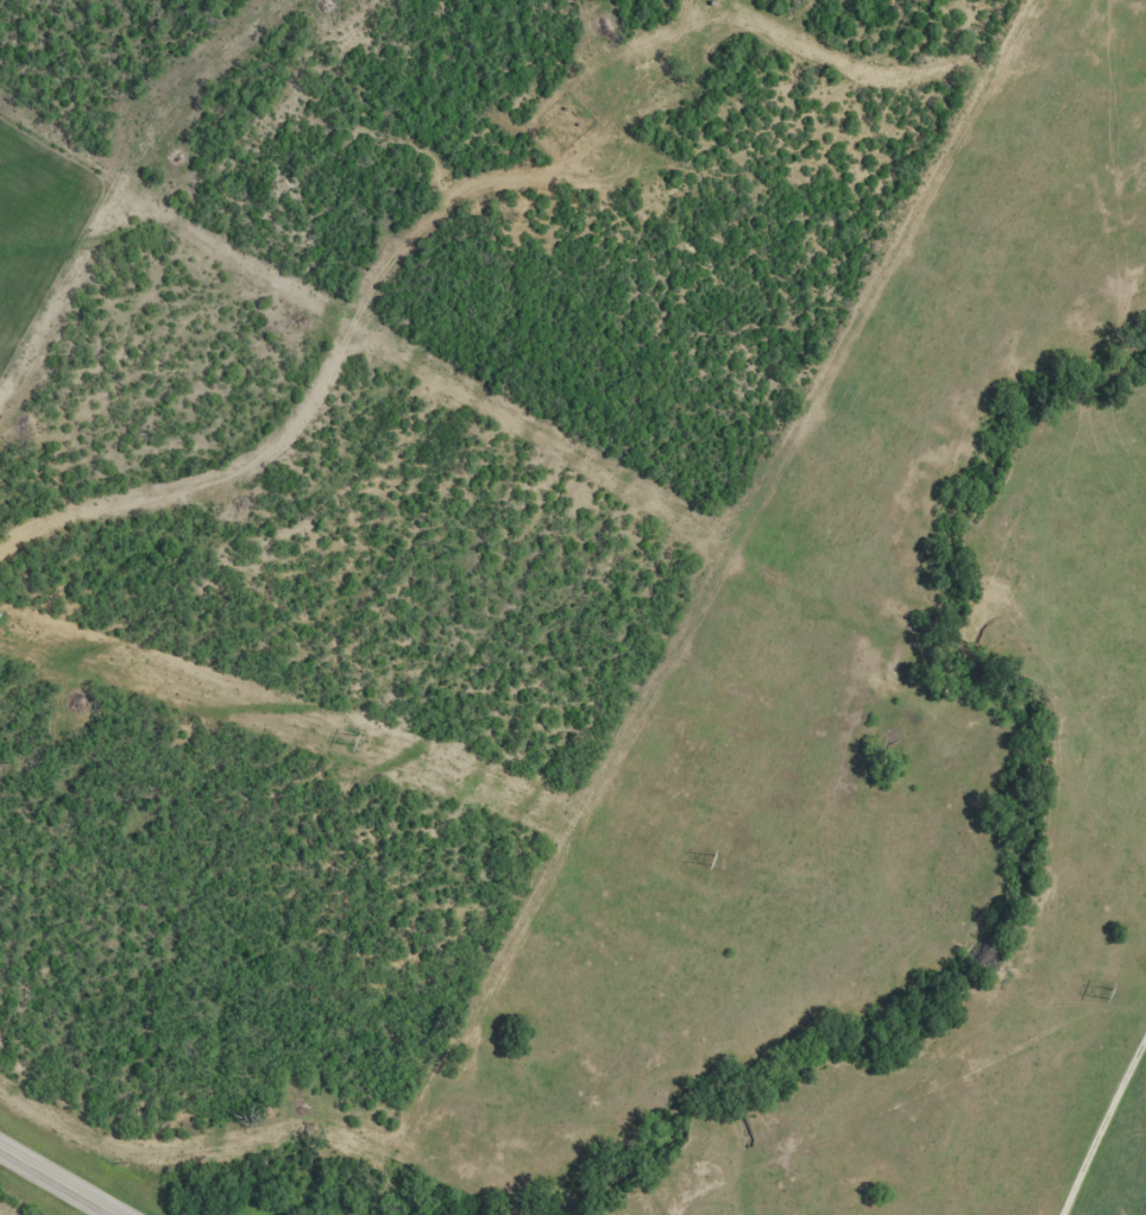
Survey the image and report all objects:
power tower: (354, 739)
power tower: (713, 860)
power tower: (1108, 991)
road: (1100, 1121)
road: (58, 1182)

